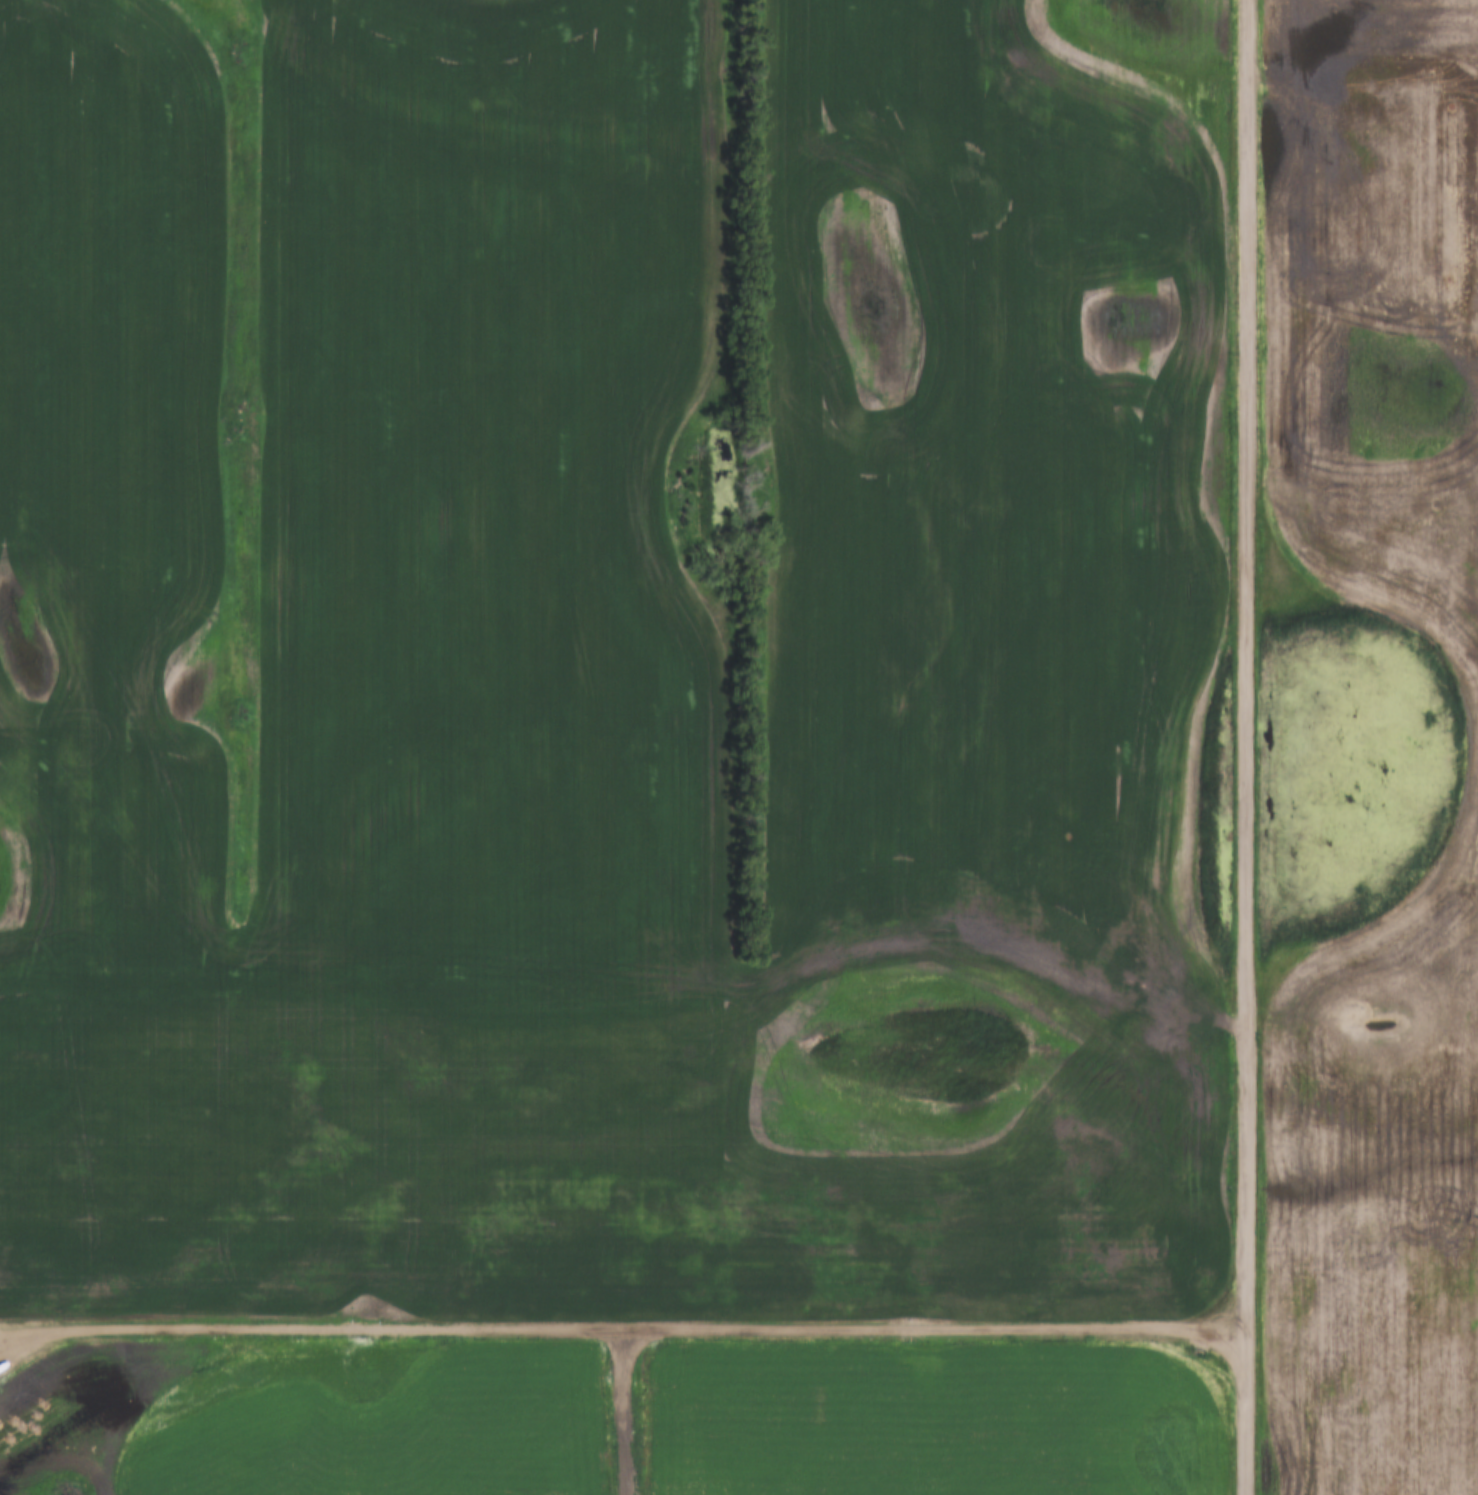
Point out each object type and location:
road: (1246, 747)

